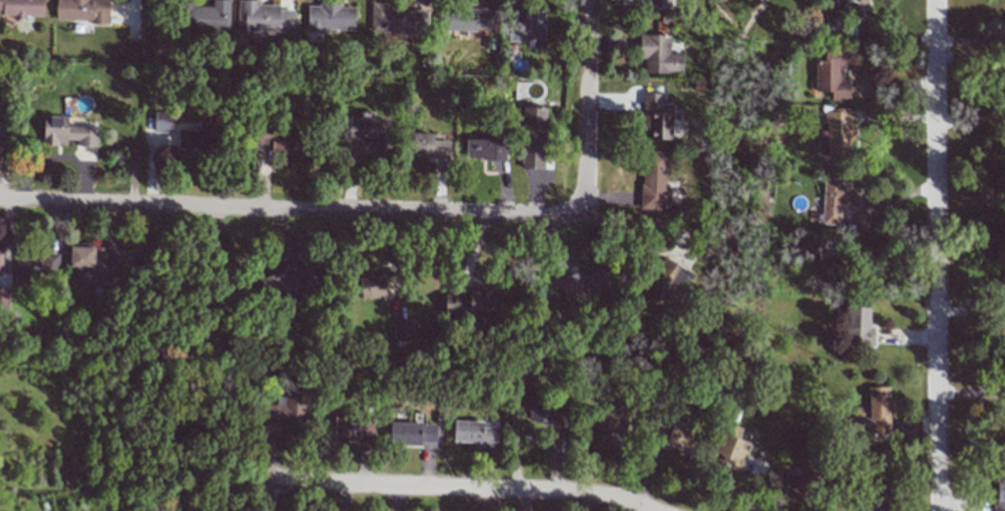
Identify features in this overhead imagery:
building: (660, 4)
building: (22, 8)
building: (82, 10)
building: (206, 16)
building: (825, 16)
building: (263, 17)
building: (329, 17)
building: (397, 19)
building: (468, 19)
building: (528, 26)
road: (971, 40)
building: (659, 55)
building: (833, 73)
road: (583, 109)
building: (656, 116)
building: (163, 121)
building: (1, 128)
building: (838, 131)
building: (67, 132)
building: (371, 132)
building: (533, 138)
building: (198, 139)
building: (280, 140)
building: (428, 146)
building: (484, 149)
building: (654, 181)
building: (837, 198)
road: (290, 209)
road: (938, 255)
building: (89, 258)
building: (1, 262)
building: (37, 265)
building: (292, 281)
building: (584, 285)
building: (661, 285)
building: (374, 286)
building: (4, 299)
building: (471, 301)
building: (858, 326)
building: (402, 332)
building: (287, 408)
building: (543, 412)
building: (874, 412)
building: (608, 425)
building: (353, 427)
building: (411, 433)
building: (473, 433)
building: (675, 436)
building: (731, 445)
building: (794, 481)
road: (452, 491)
building: (998, 492)

